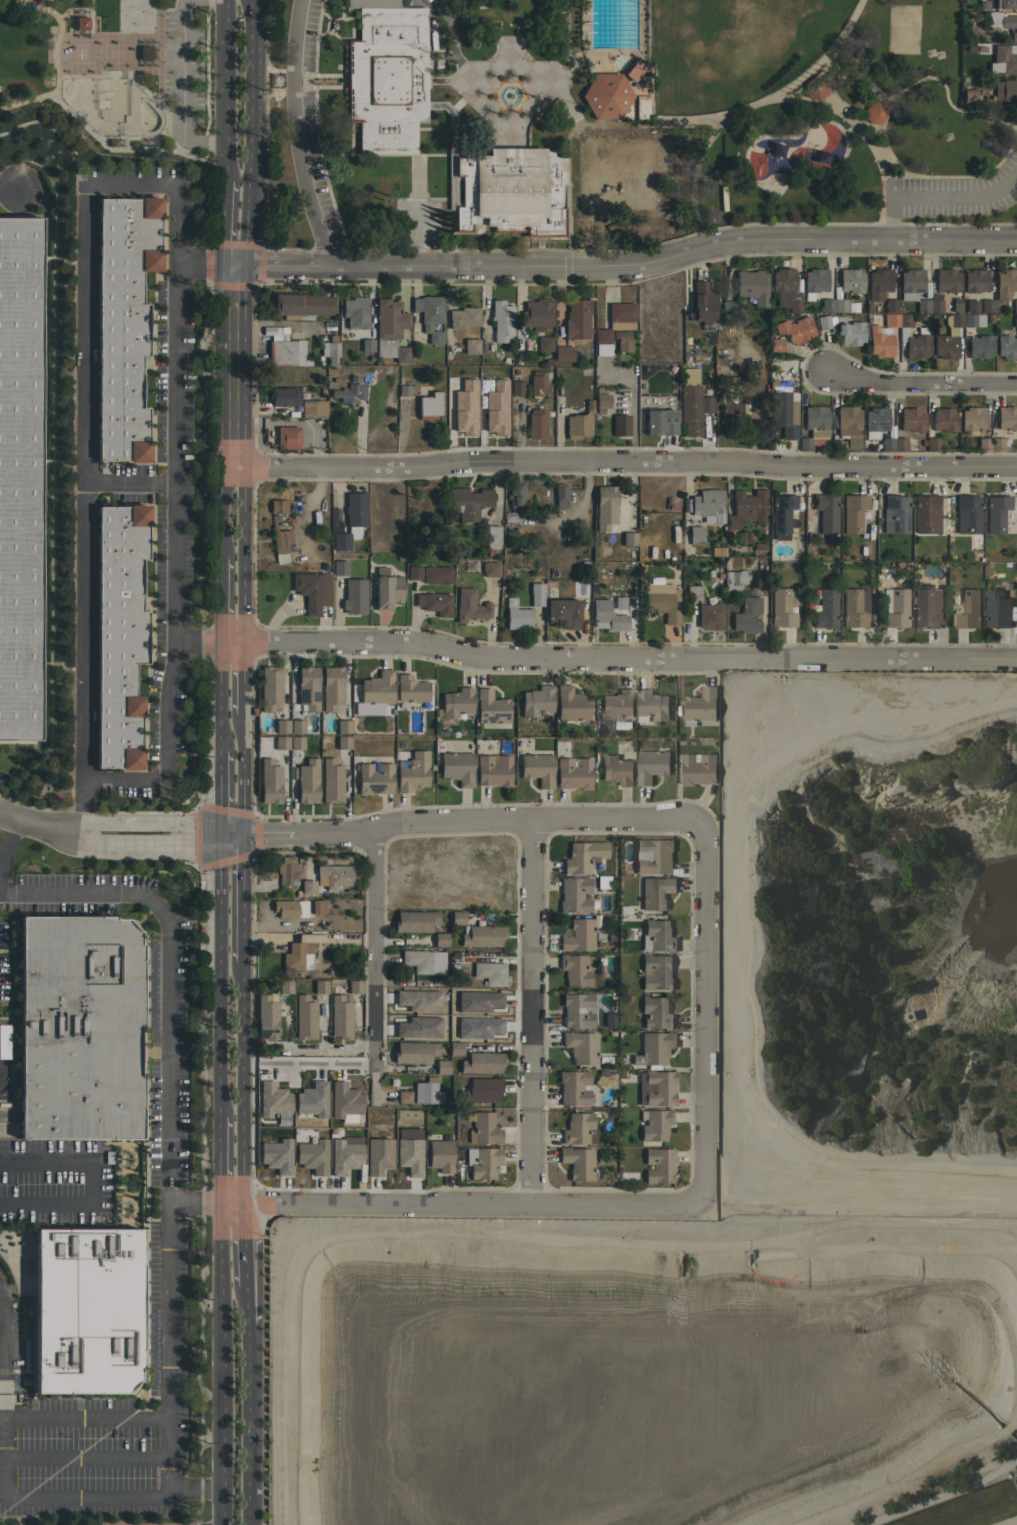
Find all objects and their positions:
building: (997, 4)
road: (447, 21)
building: (81, 23)
building: (1003, 23)
building: (1003, 59)
building: (633, 70)
building: (385, 76)
building: (509, 79)
road: (180, 86)
building: (814, 87)
road: (223, 90)
building: (1006, 90)
building: (606, 95)
building: (969, 96)
road: (844, 103)
park: (111, 105)
building: (641, 107)
park: (728, 112)
building: (875, 112)
road: (578, 123)
road: (297, 135)
road: (141, 184)
building: (504, 187)
road: (12, 191)
road: (939, 199)
road: (223, 222)
road: (243, 234)
traffic signals: (223, 263)
road: (199, 264)
traffic signals: (242, 265)
road: (621, 267)
building: (815, 280)
building: (850, 280)
building: (975, 280)
building: (878, 283)
building: (910, 283)
building: (1005, 283)
building: (752, 286)
building: (943, 287)
building: (786, 289)
building: (302, 305)
building: (702, 305)
building: (826, 305)
building: (839, 305)
building: (892, 305)
building: (922, 305)
building: (956, 305)
building: (1014, 305)
building: (986, 306)
building: (727, 311)
building: (355, 312)
building: (621, 312)
building: (537, 313)
building: (429, 315)
building: (463, 317)
building: (576, 319)
building: (904, 319)
building: (501, 320)
building: (973, 320)
building: (1015, 320)
building: (123, 322)
building: (823, 322)
building: (390, 329)
building: (795, 330)
building: (850, 332)
building: (882, 335)
building: (948, 337)
building: (622, 340)
building: (602, 342)
building: (544, 343)
building: (775, 344)
building: (367, 345)
building: (470, 346)
building: (916, 346)
building: (979, 346)
building: (1006, 346)
building: (286, 352)
building: (331, 353)
building: (563, 353)
building: (787, 364)
road: (222, 366)
building: (689, 375)
road: (920, 379)
building: (539, 384)
building: (517, 388)
building: (403, 390)
building: (350, 393)
building: (285, 396)
building: (601, 400)
building: (429, 406)
building: (313, 408)
building: (692, 408)
building: (463, 409)
building: (784, 414)
building: (728, 415)
building: (1006, 417)
building: (972, 418)
building: (911, 419)
building: (943, 419)
building: (874, 421)
building: (537, 423)
building: (579, 423)
building: (659, 423)
building: (620, 425)
building: (813, 425)
building: (847, 425)
building: (287, 437)
building: (886, 444)
building: (900, 444)
building: (930, 444)
building: (984, 444)
building: (996, 444)
road: (630, 462)
road: (232, 469)
building: (20, 475)
road: (128, 481)
building: (515, 496)
building: (560, 496)
building: (468, 502)
building: (707, 505)
building: (283, 507)
building: (605, 507)
building: (747, 508)
building: (826, 511)
building: (853, 512)
building: (996, 512)
building: (926, 513)
road: (221, 514)
building: (895, 514)
building: (967, 514)
building: (781, 515)
building: (509, 518)
building: (351, 520)
building: (695, 535)
building: (492, 536)
building: (743, 537)
building: (628, 538)
building: (280, 544)
building: (717, 551)
road: (241, 555)
building: (340, 567)
building: (490, 569)
building: (414, 572)
building: (436, 575)
building: (735, 580)
building: (312, 590)
building: (387, 591)
building: (693, 592)
building: (536, 594)
building: (354, 596)
road: (219, 600)
building: (662, 601)
building: (434, 603)
building: (617, 603)
building: (470, 606)
building: (894, 607)
building: (823, 608)
building: (855, 608)
building: (926, 608)
building: (997, 608)
building: (782, 609)
building: (968, 609)
building: (563, 612)
building: (607, 616)
building: (710, 616)
building: (747, 616)
building: (517, 617)
building: (119, 633)
road: (616, 659)
road: (239, 679)
building: (270, 687)
building: (308, 687)
building: (332, 687)
building: (376, 689)
building: (411, 689)
road: (219, 697)
building: (537, 700)
building: (456, 702)
building: (617, 703)
building: (571, 704)
building: (651, 706)
building: (699, 706)
building: (491, 707)
building: (281, 726)
building: (297, 726)
building: (343, 726)
building: (281, 742)
building: (297, 742)
building: (343, 742)
building: (651, 765)
building: (457, 768)
building: (537, 768)
building: (617, 768)
building: (698, 768)
building: (493, 769)
building: (412, 771)
building: (574, 773)
road: (239, 776)
building: (374, 778)
building: (270, 781)
building: (307, 781)
building: (331, 781)
road: (219, 797)
road: (474, 822)
road: (39, 823)
road: (161, 824)
traffic signals: (220, 826)
road: (7, 836)
traffic signals: (242, 836)
road: (159, 841)
traffic signals: (221, 842)
building: (583, 855)
building: (657, 855)
building: (288, 871)
building: (327, 879)
building: (656, 892)
building: (574, 894)
road: (242, 899)
building: (316, 906)
building: (286, 908)
building: (457, 917)
building: (415, 921)
building: (659, 935)
building: (483, 936)
building: (575, 936)
building: (440, 939)
building: (297, 956)
road: (374, 956)
building: (418, 960)
building: (575, 970)
building: (657, 972)
building: (490, 973)
road: (220, 978)
building: (284, 986)
building: (320, 986)
building: (354, 986)
building: (480, 993)
building: (450, 997)
building: (577, 1010)
building: (656, 1012)
road: (534, 1013)
building: (423, 1014)
road: (703, 1016)
building: (266, 1017)
building: (304, 1017)
building: (340, 1017)
building: (609, 1020)
building: (79, 1028)
building: (581, 1046)
building: (455, 1048)
building: (656, 1048)
road: (330, 1051)
building: (414, 1052)
building: (482, 1062)
building: (441, 1067)
road: (242, 1084)
building: (573, 1087)
building: (656, 1087)
building: (482, 1090)
building: (427, 1091)
building: (403, 1096)
building: (272, 1101)
building: (310, 1101)
building: (342, 1101)
road: (168, 1117)
building: (655, 1124)
building: (577, 1128)
building: (484, 1129)
building: (407, 1152)
building: (440, 1155)
building: (343, 1156)
building: (275, 1157)
building: (311, 1157)
building: (377, 1157)
road: (220, 1160)
building: (577, 1162)
building: (484, 1163)
building: (660, 1165)
quarry: (730, 1187)
road: (194, 1204)
road: (459, 1205)
road: (244, 1245)
road: (245, 1303)
building: (87, 1310)
road: (223, 1364)
road: (85, 1416)
road: (249, 1423)
road: (85, 1456)
road: (1, 1487)
road: (196, 1492)

